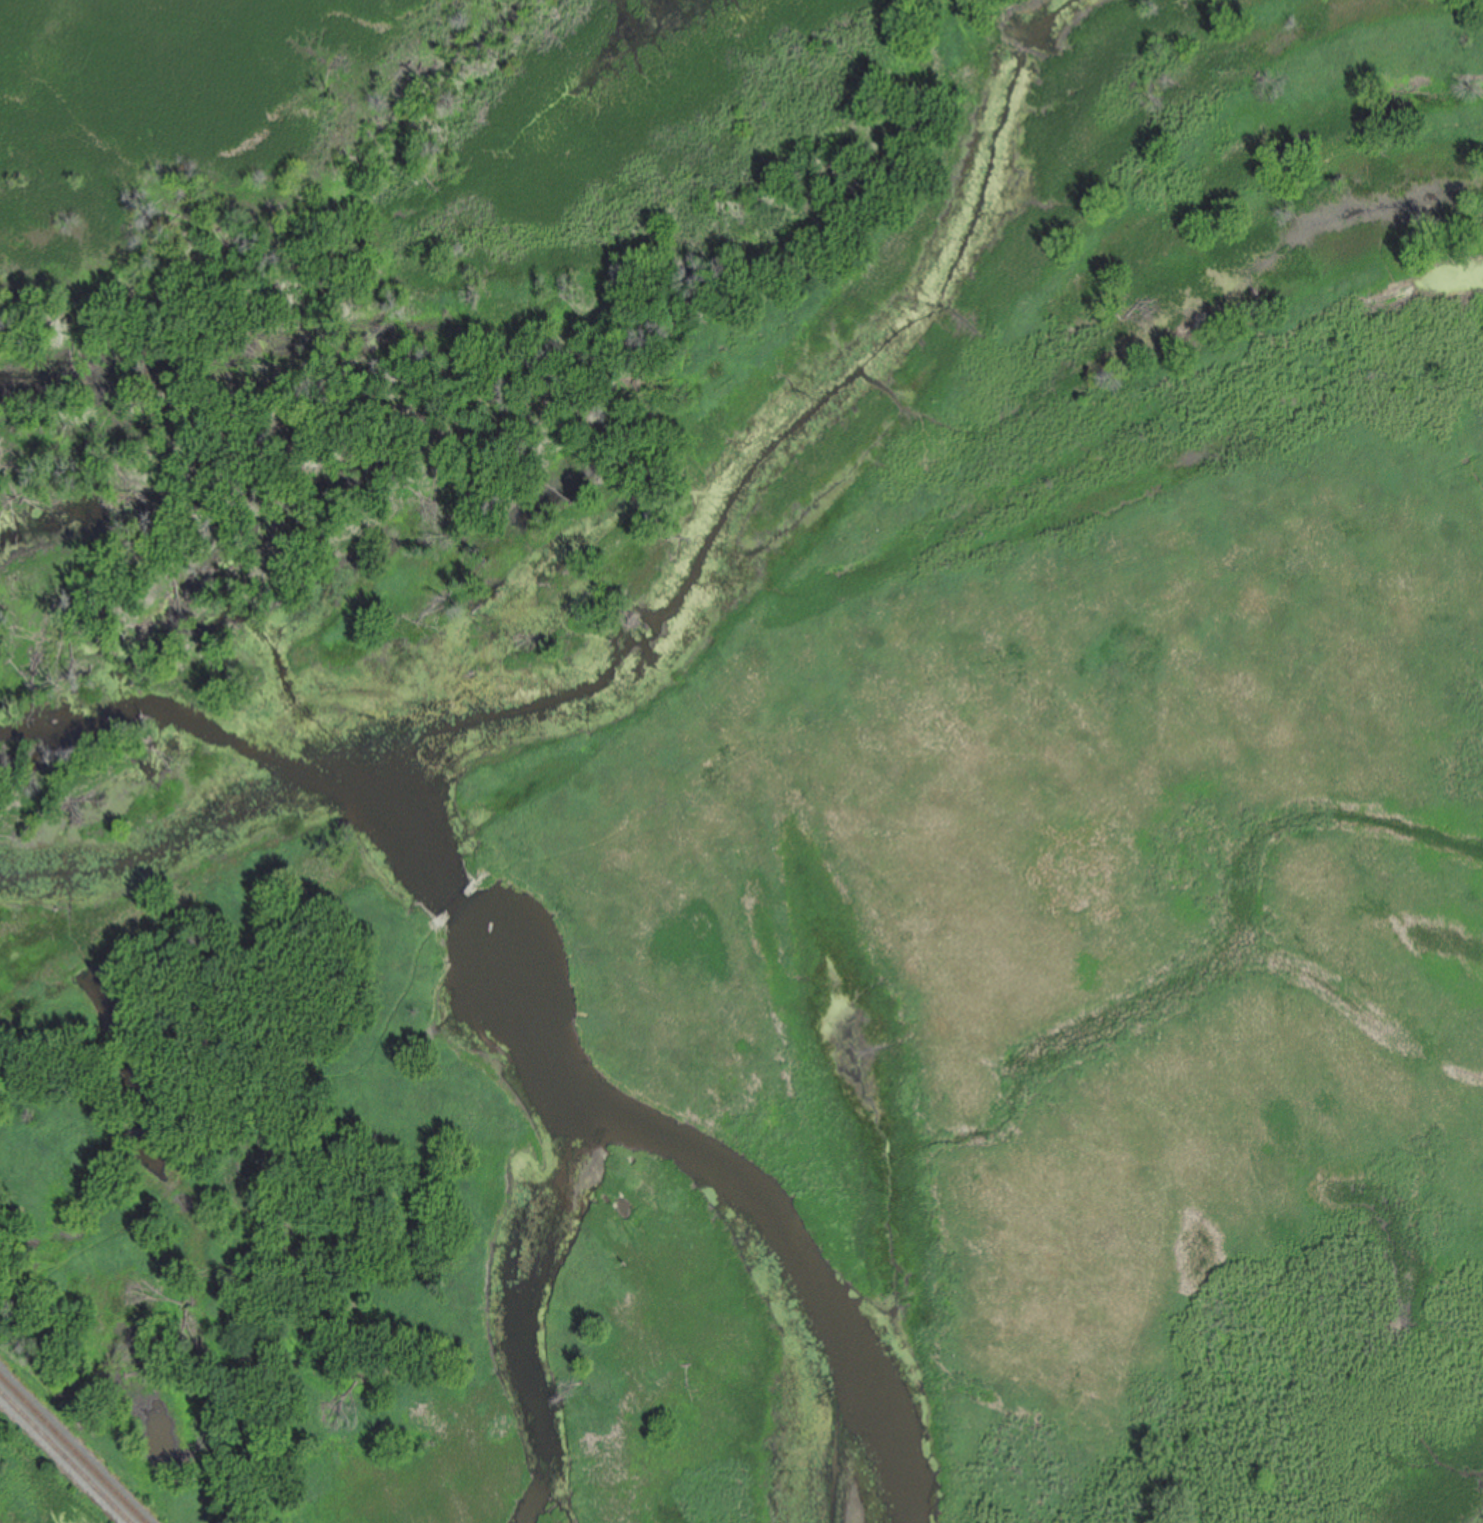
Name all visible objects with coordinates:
railway: (75, 1446)
railway: (67, 1454)

